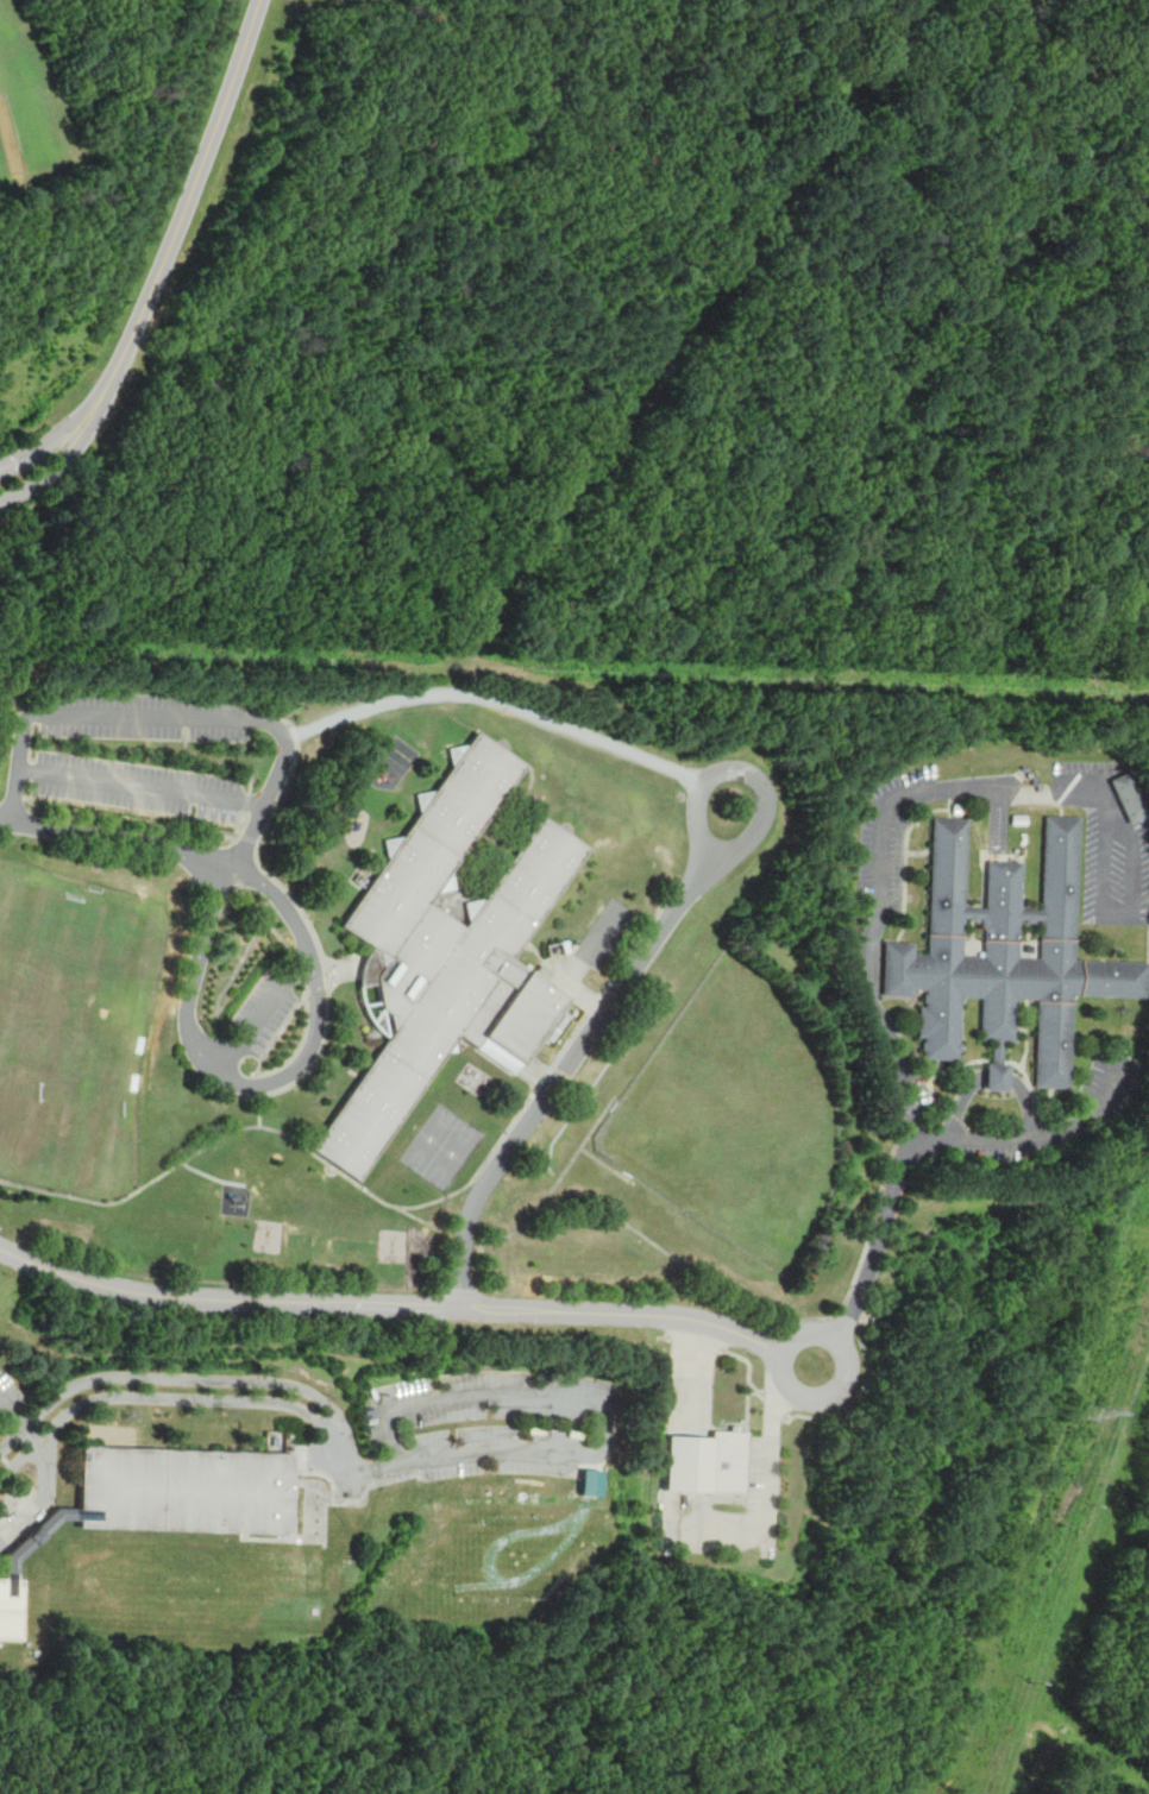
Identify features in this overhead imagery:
road: (181, 219)
road: (38, 447)
road: (50, 476)
road: (576, 671)
road: (5, 680)
road: (429, 694)
road: (253, 713)
road: (105, 715)
road: (746, 770)
road: (140, 783)
road: (942, 787)
road: (950, 793)
building: (1129, 797)
road: (1053, 799)
road: (533, 807)
building: (955, 808)
road: (1061, 808)
road: (950, 810)
road: (510, 816)
road: (1005, 820)
building: (1018, 820)
road: (117, 838)
road: (919, 854)
road: (908, 862)
road: (684, 886)
road: (302, 912)
road: (1112, 914)
road: (1141, 919)
road: (641, 937)
building: (972, 938)
road: (974, 938)
building: (1029, 939)
road: (1030, 940)
road: (588, 945)
building: (447, 950)
building: (1006, 953)
road: (566, 981)
road: (1148, 983)
road: (597, 1000)
road: (259, 1011)
park: (65, 1013)
road: (1028, 1033)
road: (997, 1051)
road: (997, 1062)
road: (941, 1068)
building: (996, 1070)
road: (561, 1074)
road: (994, 1075)
road: (255, 1084)
road: (1107, 1087)
road: (915, 1107)
park: (730, 1113)
road: (1069, 1121)
road: (912, 1127)
road: (1000, 1141)
park: (441, 1145)
road: (608, 1165)
road: (332, 1166)
road: (557, 1184)
road: (419, 1219)
road: (471, 1245)
road: (384, 1304)
road: (853, 1313)
road: (774, 1314)
road: (670, 1326)
road: (664, 1337)
road: (728, 1339)
road: (697, 1340)
road: (846, 1360)
road: (751, 1365)
road: (691, 1377)
road: (165, 1378)
road: (153, 1395)
road: (859, 1395)
road: (596, 1402)
road: (776, 1404)
power tower: (1093, 1411)
road: (740, 1424)
road: (746, 1456)
building: (703, 1463)
road: (351, 1466)
road: (770, 1466)
road: (46, 1469)
building: (180, 1485)
road: (755, 1503)
road: (722, 1537)
road: (1081, 1579)
building: (7, 1605)
road: (1013, 1777)

